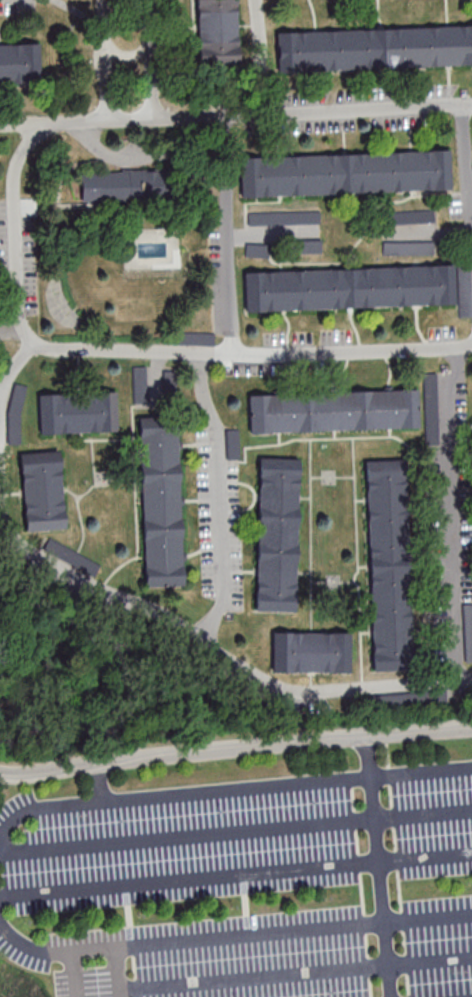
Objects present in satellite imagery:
road: (80, 13)
building: (217, 30)
building: (373, 49)
road: (259, 58)
road: (152, 60)
road: (105, 61)
building: (20, 64)
road: (236, 117)
road: (131, 155)
road: (465, 157)
road: (193, 158)
building: (345, 173)
building: (124, 186)
building: (283, 217)
road: (438, 230)
road: (14, 232)
road: (260, 232)
road: (227, 236)
building: (310, 245)
building: (349, 288)
building: (464, 291)
building: (196, 338)
road: (254, 355)
road: (2, 387)
road: (1, 389)
building: (439, 407)
building: (332, 411)
building: (78, 412)
building: (15, 414)
building: (234, 444)
building: (41, 491)
road: (222, 498)
building: (160, 501)
road: (452, 513)
building: (276, 534)
building: (72, 556)
building: (390, 565)
building: (468, 632)
road: (215, 649)
building: (310, 652)
road: (235, 753)
road: (421, 772)
road: (218, 790)
road: (46, 807)
road: (423, 813)
road: (187, 836)
road: (425, 857)
road: (379, 868)
road: (189, 879)
parking lot: (248, 883)
road: (429, 917)
road: (186, 940)
road: (116, 973)
road: (294, 973)
road: (75, 974)

